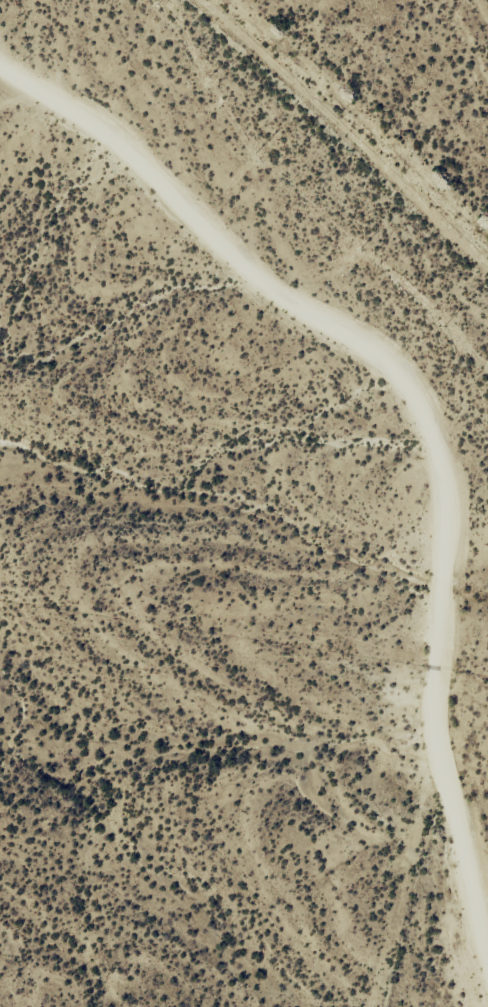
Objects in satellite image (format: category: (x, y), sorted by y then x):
road: (401, 400)

